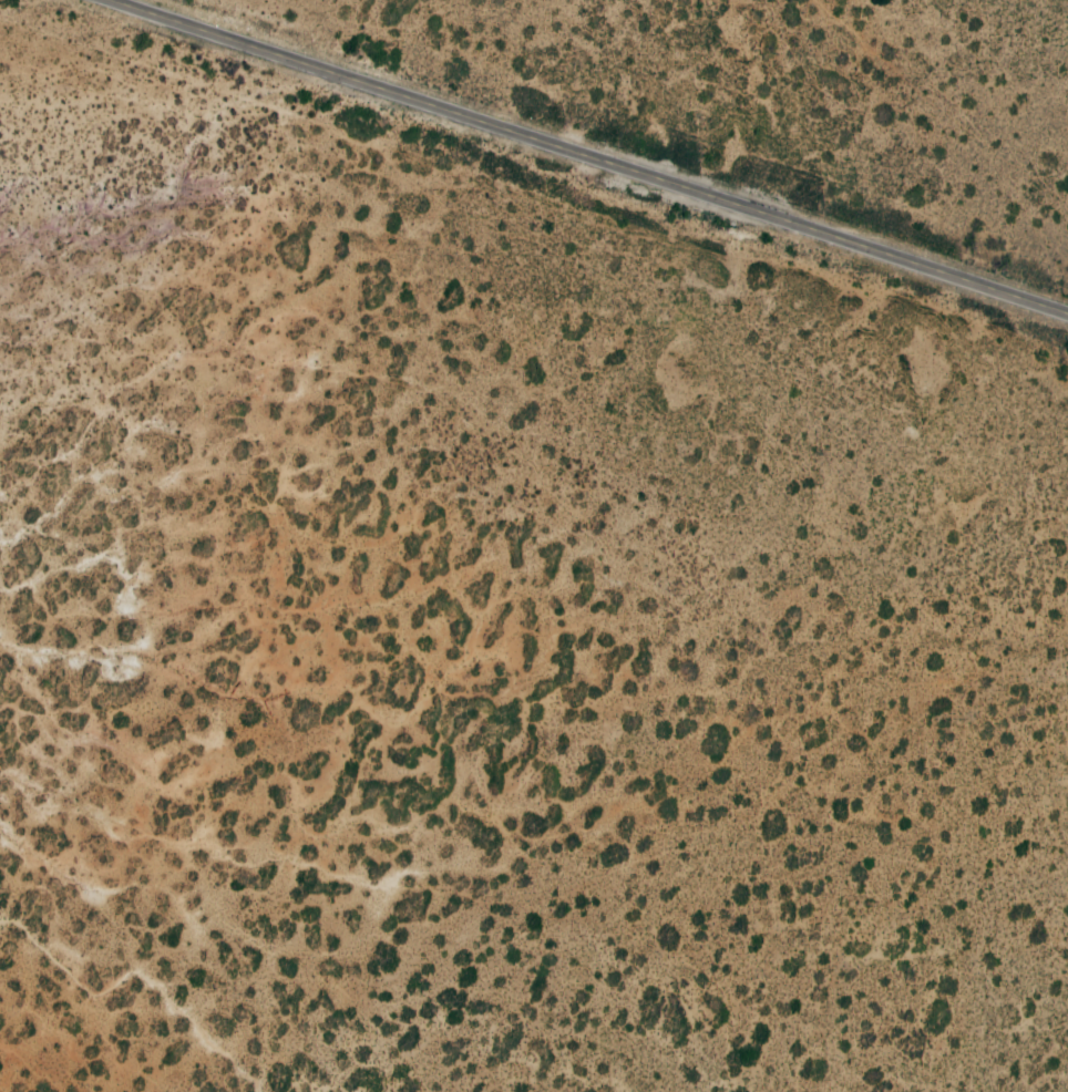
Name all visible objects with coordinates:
road: (593, 155)

